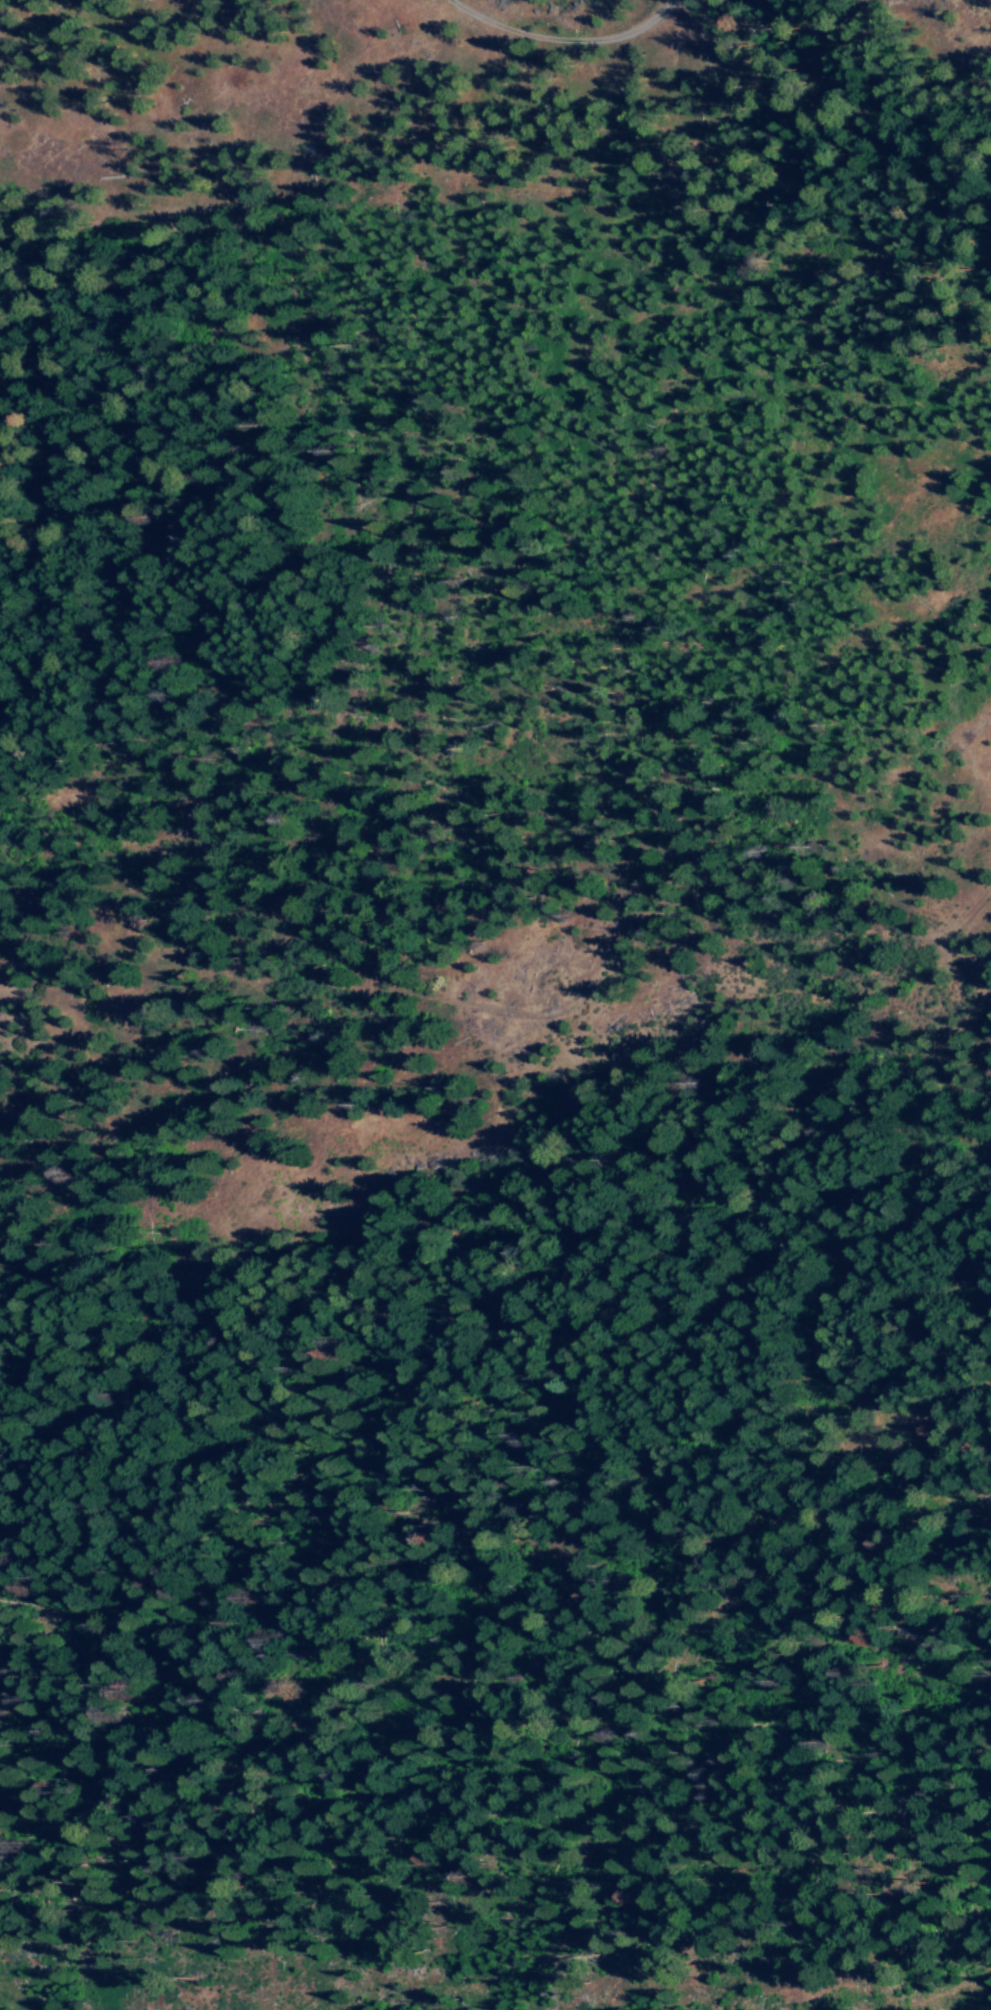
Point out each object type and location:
road: (565, 39)
road: (509, 1010)

